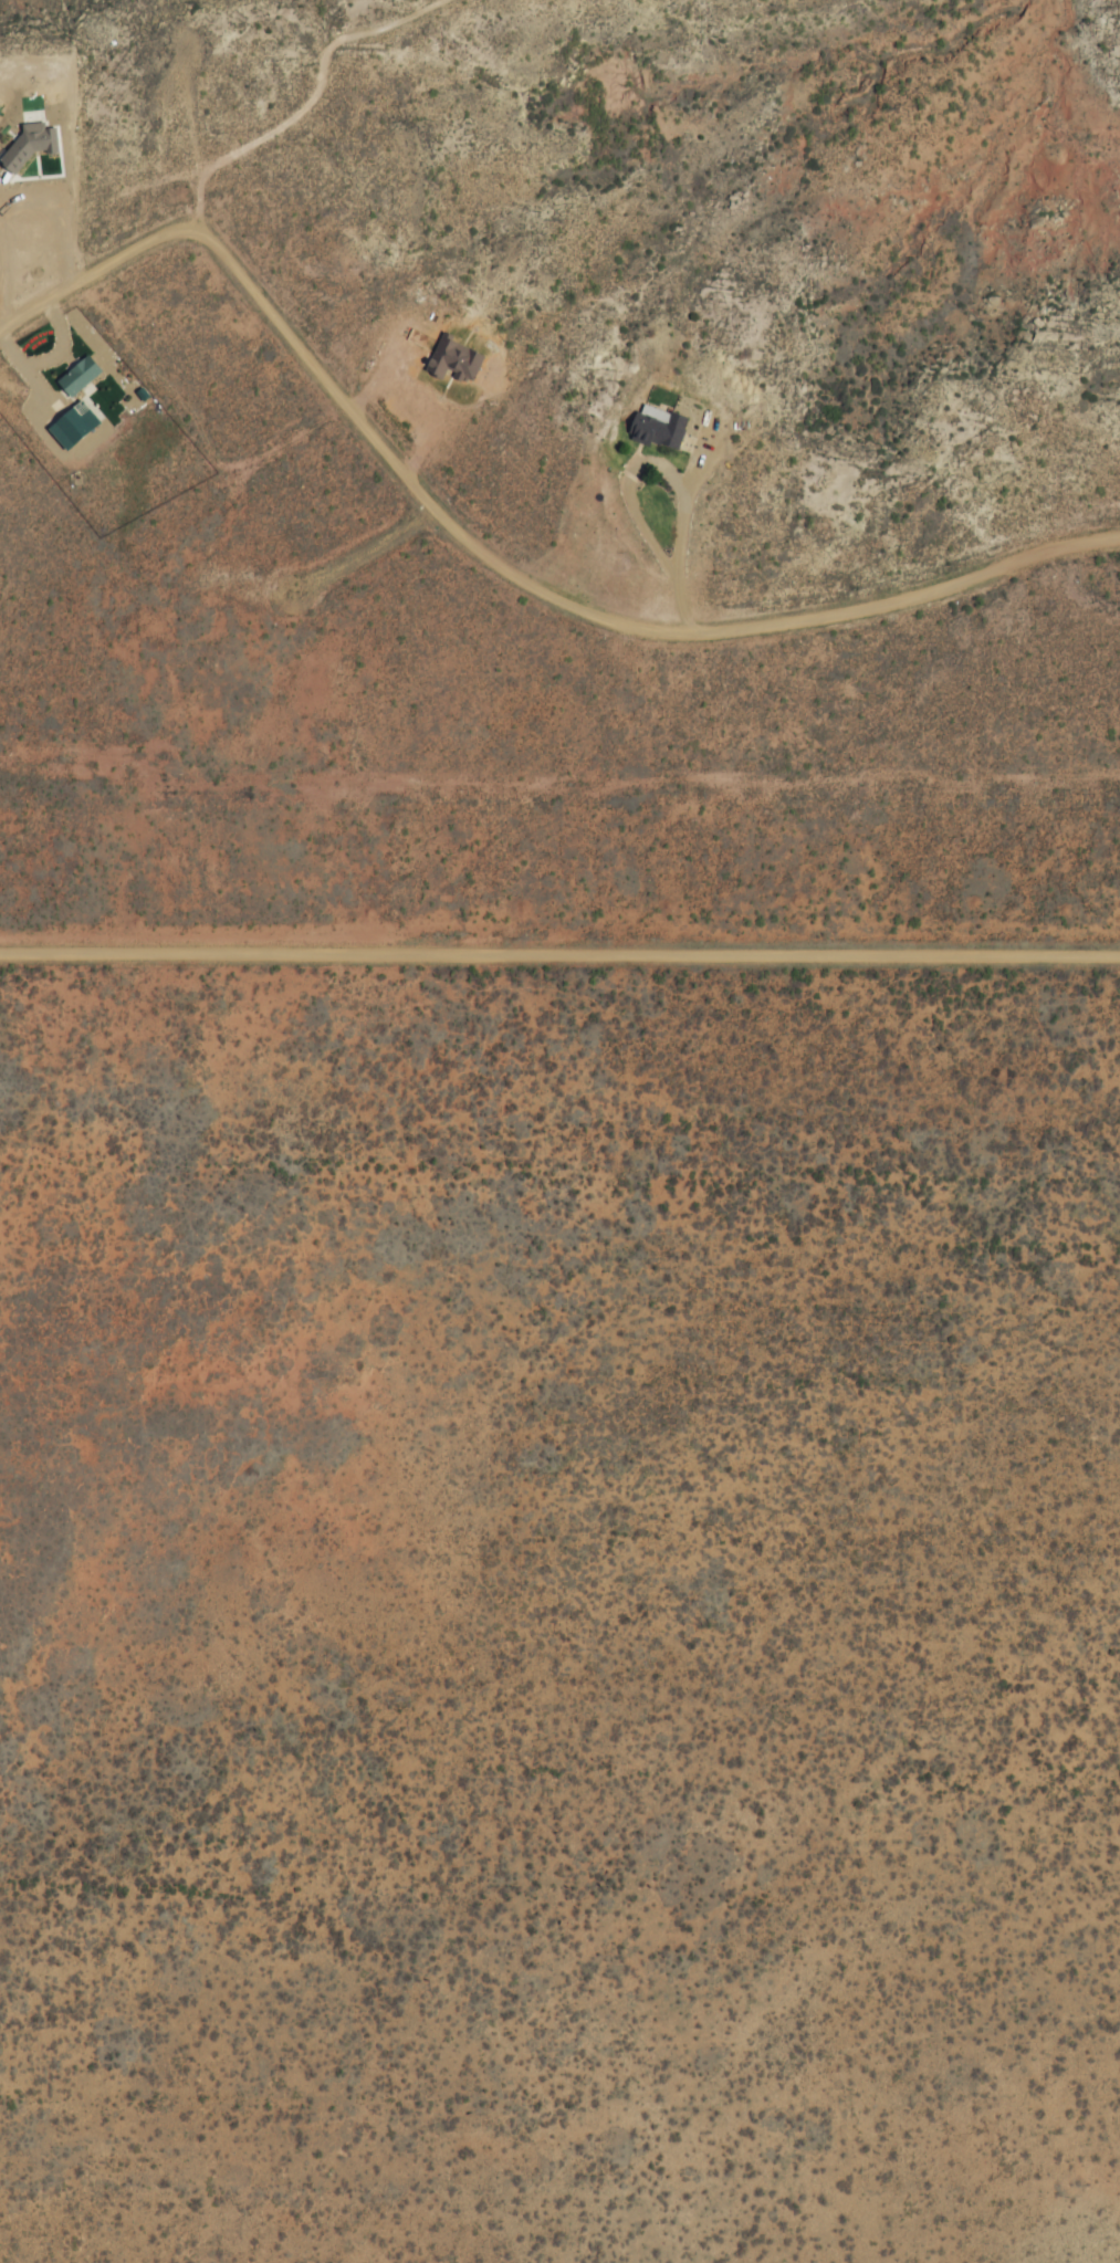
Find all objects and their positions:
building: (33, 145)
building: (78, 427)
building: (657, 427)
building: (145, 436)
road: (491, 554)
road: (559, 956)

